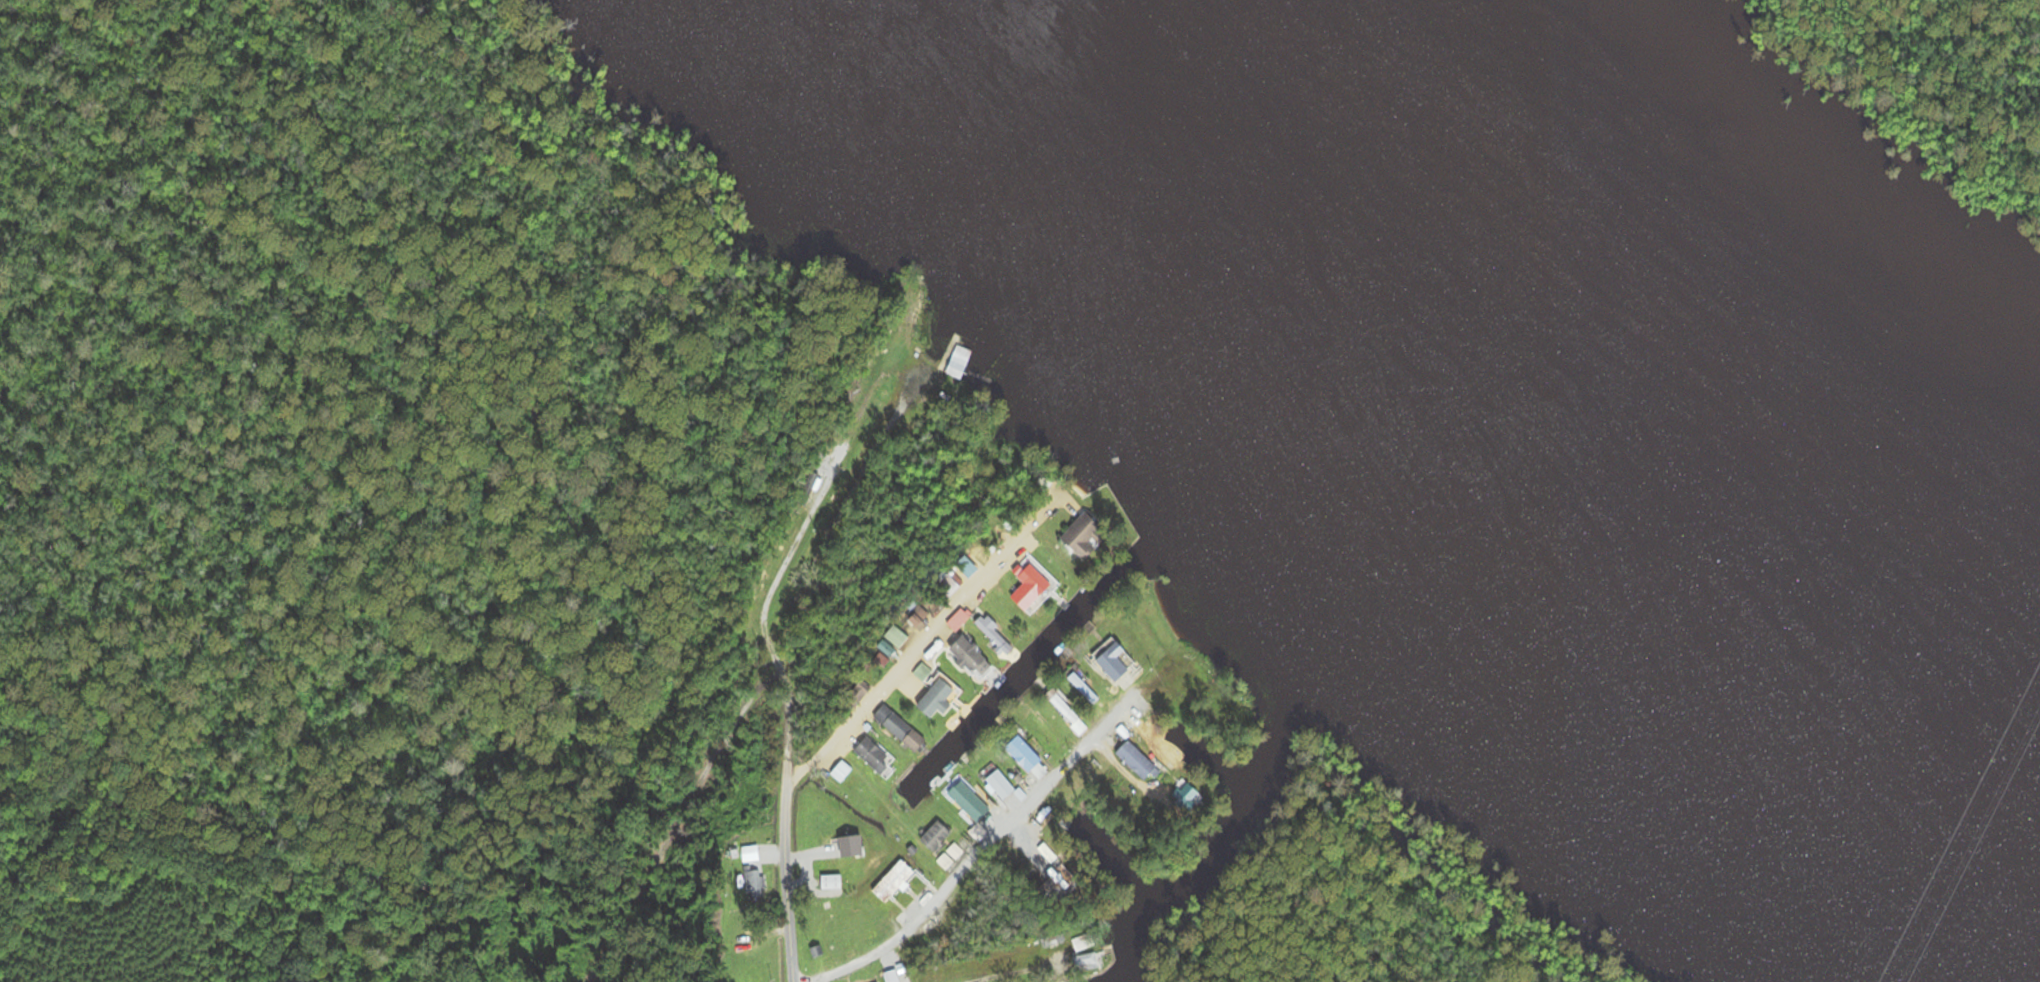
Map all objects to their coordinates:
park: (1950, 67)
river: (1394, 201)
building: (960, 362)
building: (1086, 536)
river: (1796, 576)
building: (1037, 581)
building: (948, 583)
building: (997, 637)
building: (975, 659)
building: (1117, 661)
building: (923, 674)
road: (893, 675)
building: (1086, 691)
building: (942, 698)
building: (1069, 714)
building: (898, 727)
building: (1027, 755)
building: (878, 757)
building: (1139, 760)
building: (1002, 784)
building: (1186, 795)
building: (972, 803)
road: (783, 815)
building: (829, 827)
building: (938, 836)
road: (984, 845)
building: (751, 854)
building: (894, 881)
building: (752, 882)
building: (831, 882)
building: (1084, 942)
building: (1086, 962)
road: (1018, 970)
building: (893, 976)

